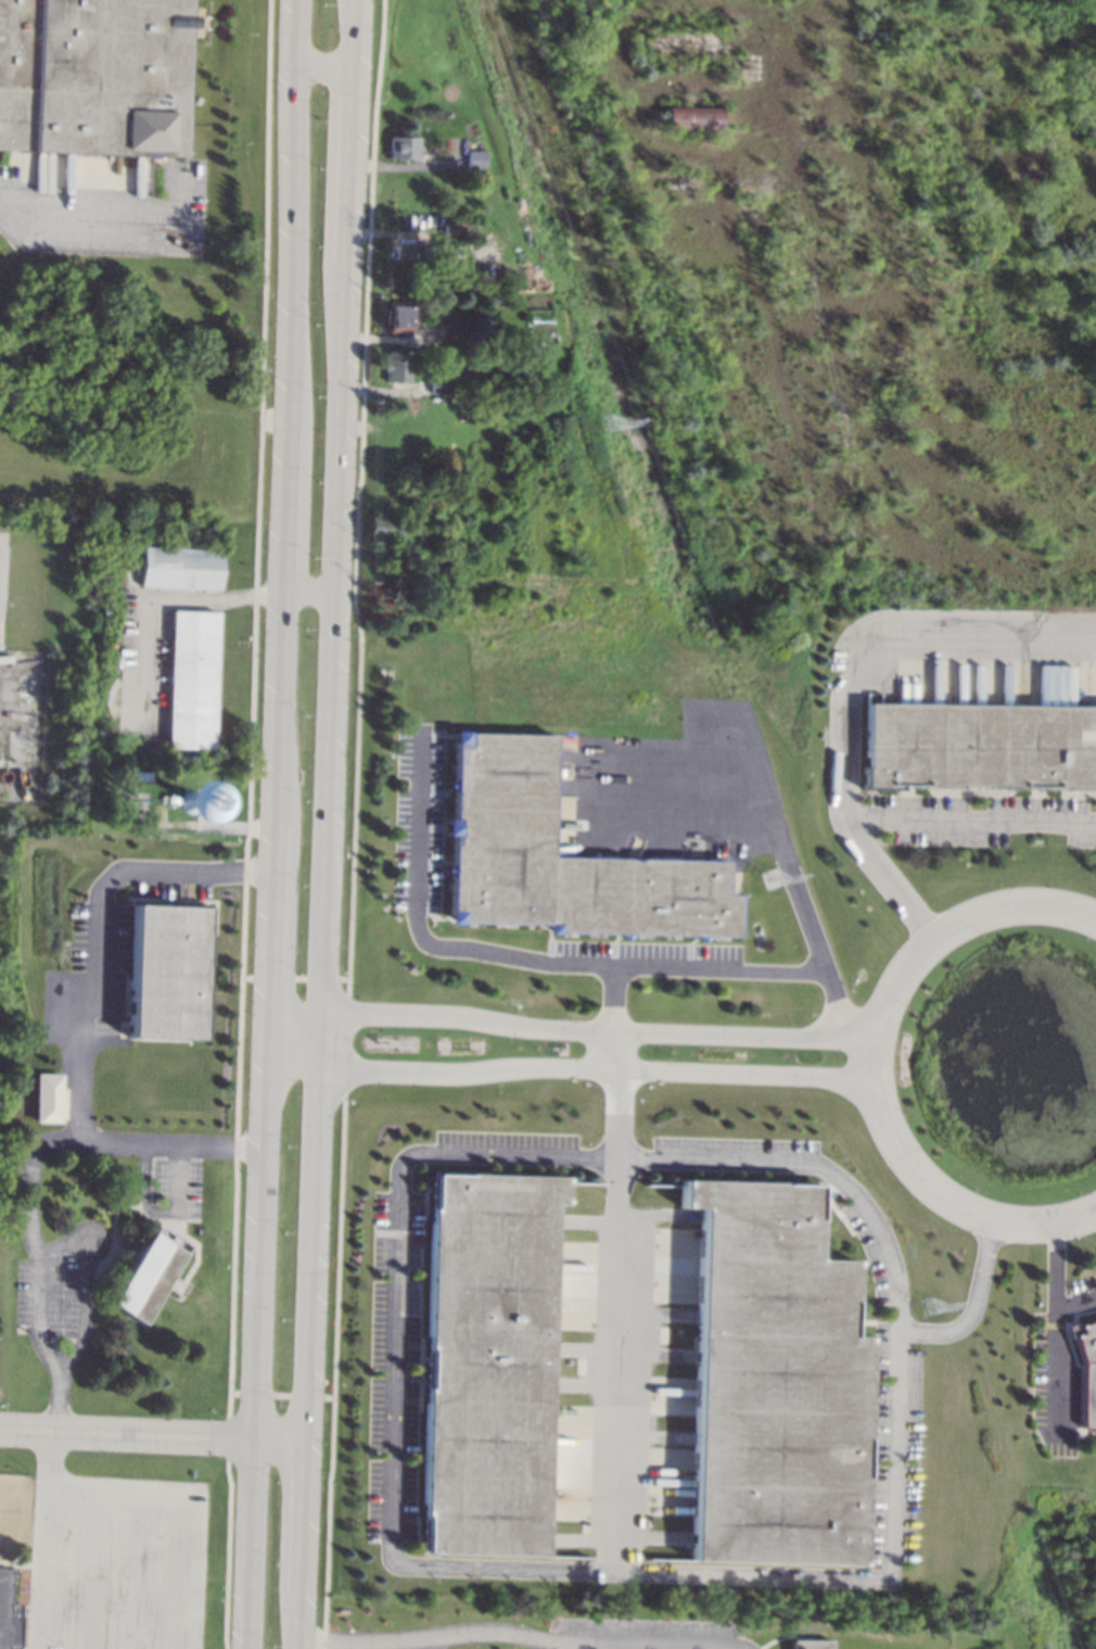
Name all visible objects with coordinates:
road: (800, 31)
road: (354, 34)
road: (327, 67)
building: (94, 75)
building: (692, 116)
building: (404, 147)
building: (475, 157)
road: (349, 165)
road: (73, 223)
building: (450, 232)
building: (405, 251)
building: (432, 263)
building: (449, 269)
building: (495, 299)
park: (613, 301)
building: (397, 315)
building: (445, 330)
building: (395, 365)
building: (437, 383)
power tower: (606, 422)
building: (381, 525)
building: (178, 567)
road: (309, 593)
road: (160, 604)
road: (890, 638)
building: (191, 678)
road: (14, 702)
building: (979, 747)
road: (668, 764)
water tower: (190, 801)
road: (896, 823)
road: (276, 824)
road: (326, 851)
building: (558, 858)
power tower: (769, 878)
road: (814, 947)
road: (445, 948)
building: (168, 972)
road: (832, 1005)
road: (89, 1015)
road: (568, 1029)
road: (612, 1050)
road: (871, 1065)
road: (564, 1067)
building: (46, 1098)
road: (619, 1114)
road: (34, 1269)
building: (145, 1274)
road: (1055, 1280)
road: (80, 1290)
road: (395, 1341)
building: (488, 1362)
road: (620, 1365)
road: (1056, 1365)
building: (1087, 1372)
building: (773, 1382)
road: (152, 1434)
road: (183, 1501)
road: (302, 1517)
road: (46, 1539)
building: (9, 1613)
road: (298, 1621)
road: (514, 1633)
parking lot: (635, 1633)
road: (434, 1642)
building: (810, 1644)
road: (583, 1646)
road: (740, 1646)
road: (732, 1647)

